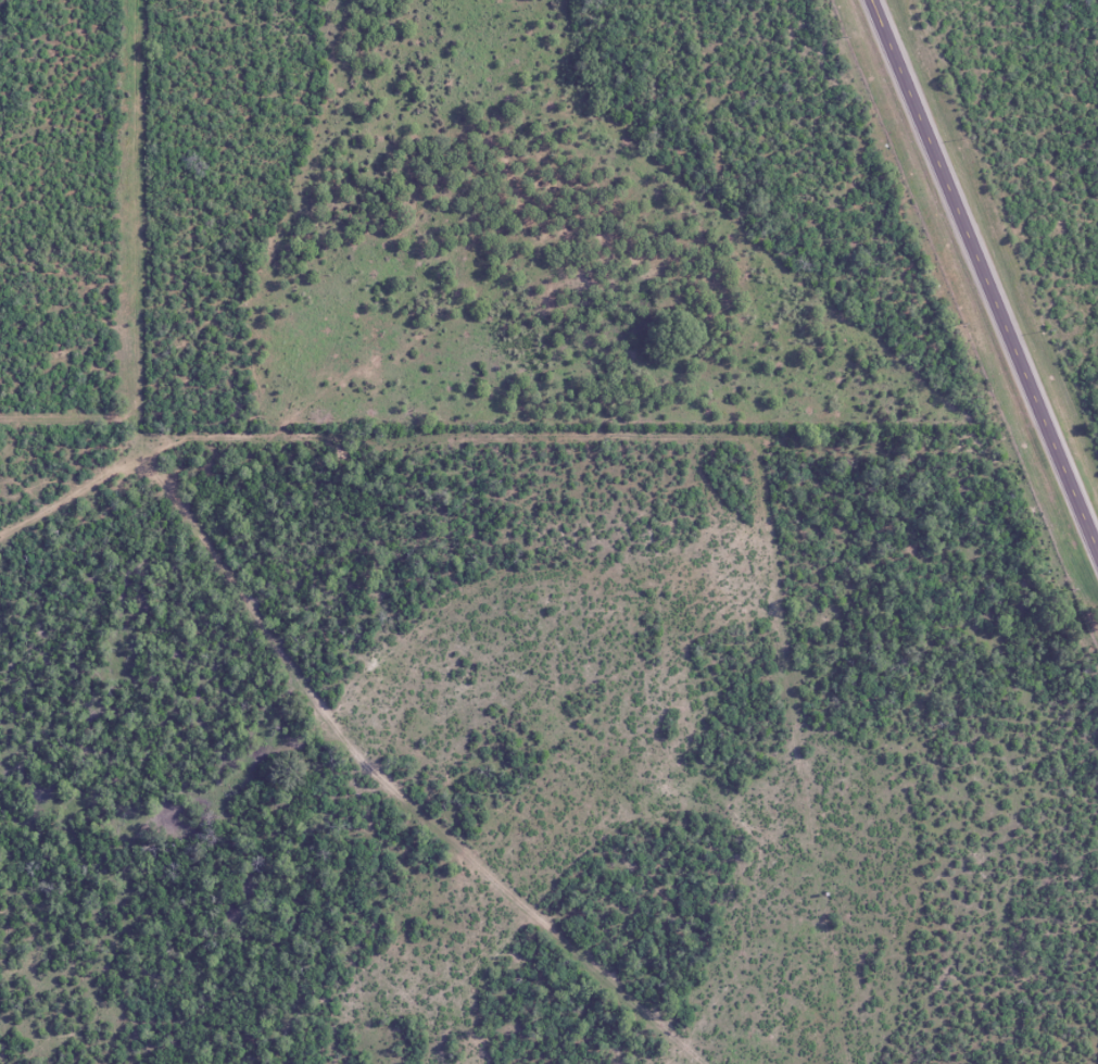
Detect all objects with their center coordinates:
power tower: (843, 37)
road: (983, 276)
power tower: (961, 323)
power tower: (1072, 591)

